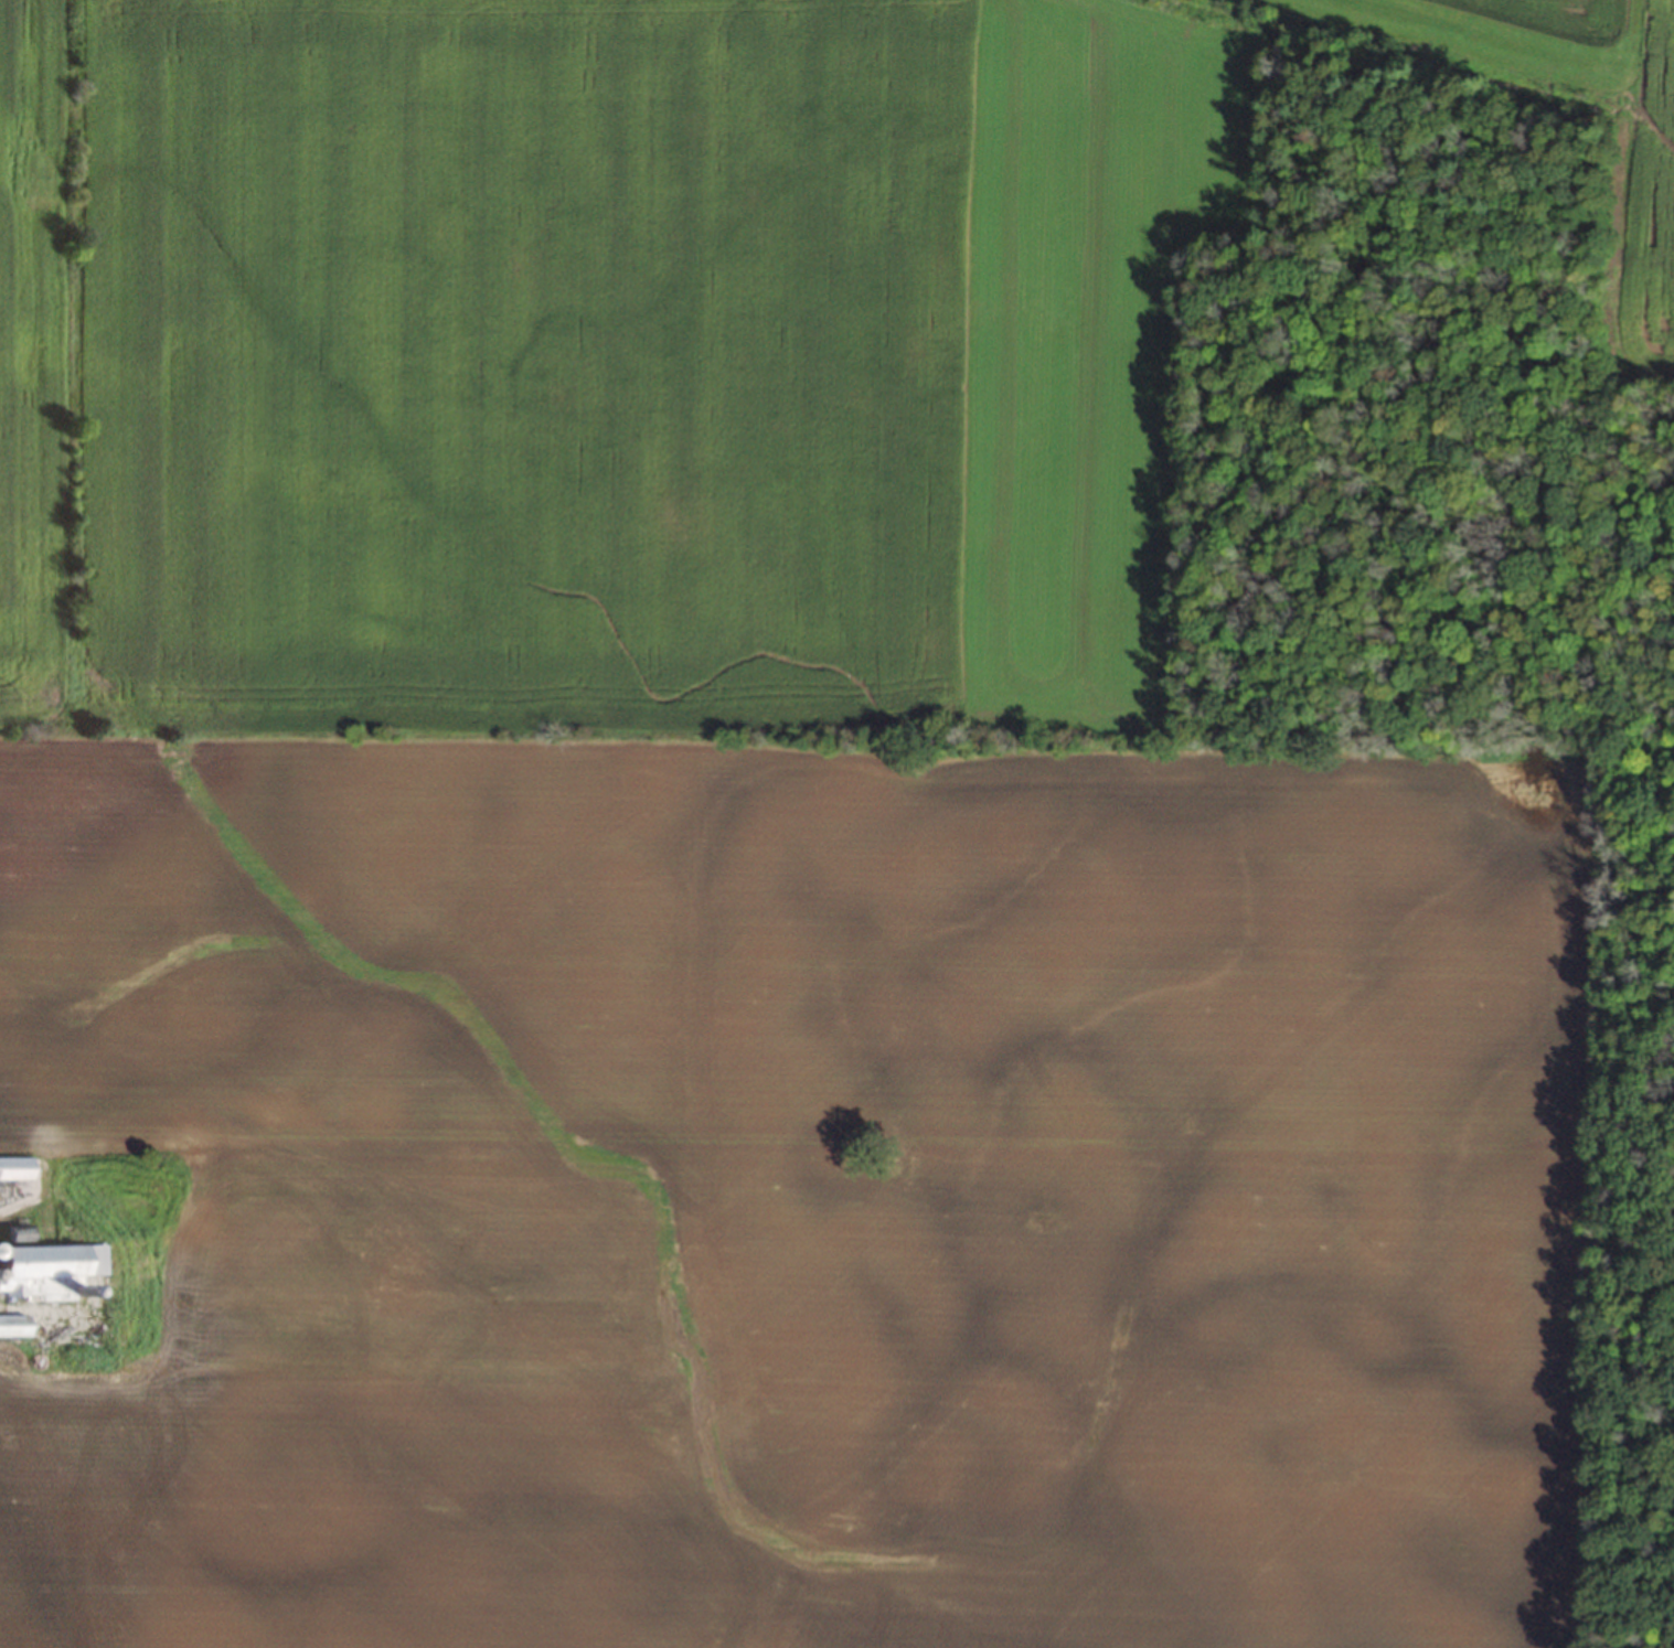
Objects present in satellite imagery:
crop: (25, 356)
building: (19, 1168)
building: (55, 1263)
building: (18, 1325)

